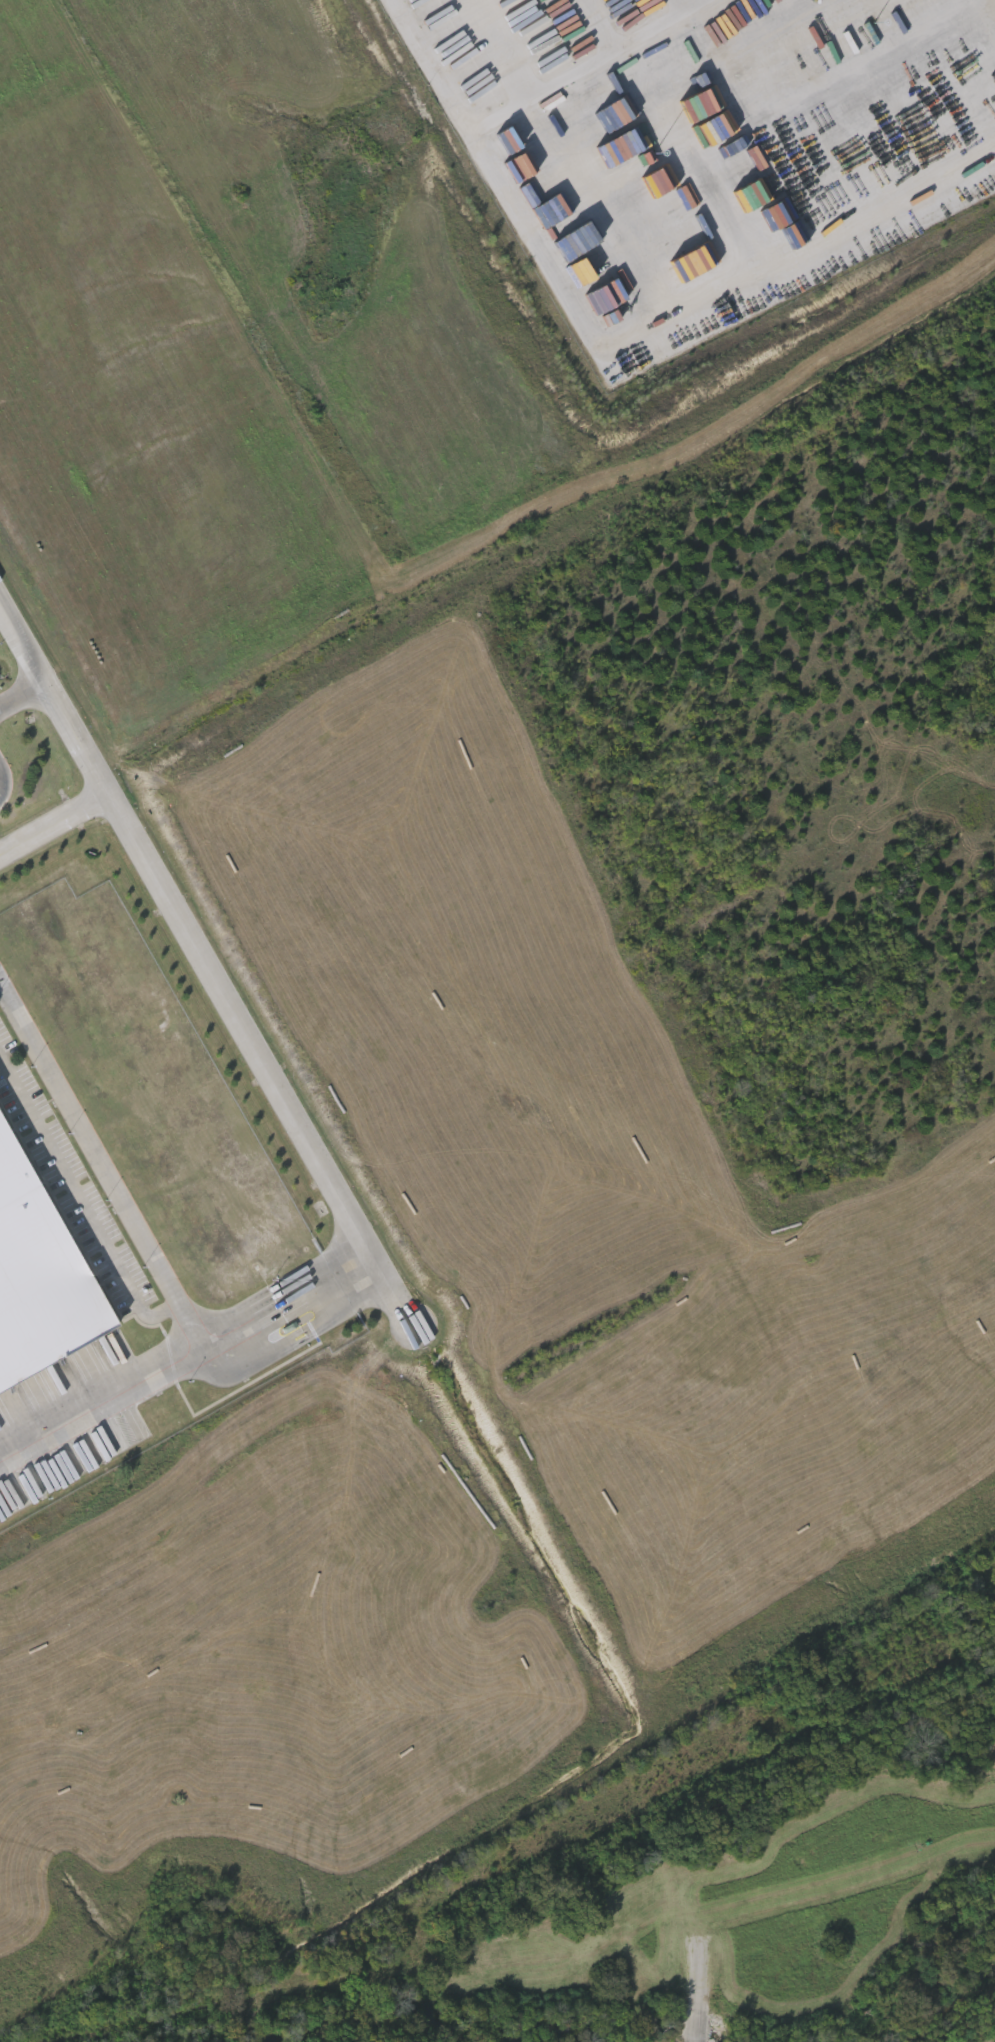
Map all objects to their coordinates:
road: (522, 97)
road: (684, 313)
road: (20, 692)
road: (52, 820)
road: (205, 967)
road: (101, 1163)
road: (82, 1204)
building: (40, 1272)
road: (287, 1298)
road: (101, 1397)
road: (851, 1909)
road: (704, 1993)

